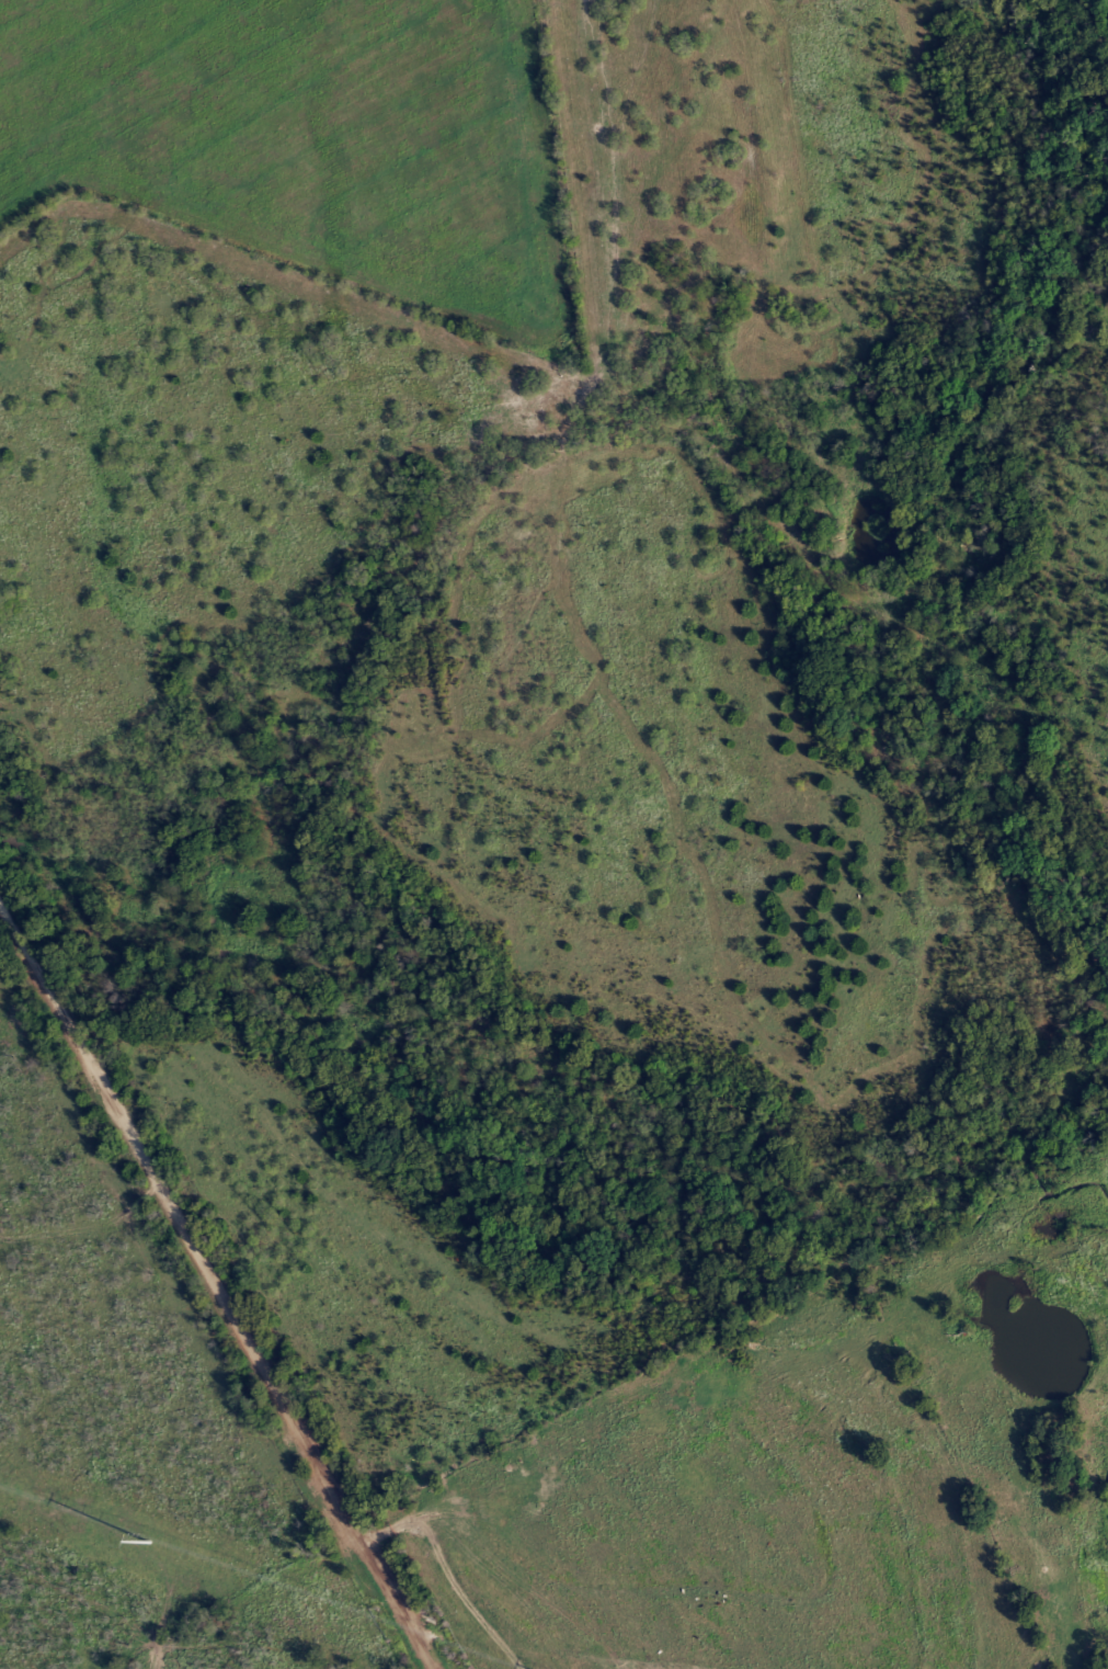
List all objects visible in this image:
road: (218, 1285)
power tower: (149, 1541)
road: (477, 1545)

